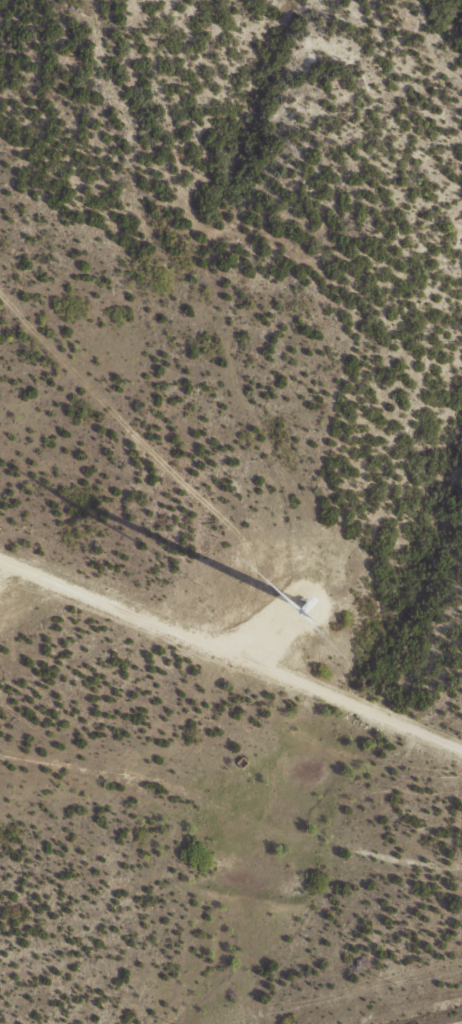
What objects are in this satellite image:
wind turbine: (306, 607)
road: (230, 655)

